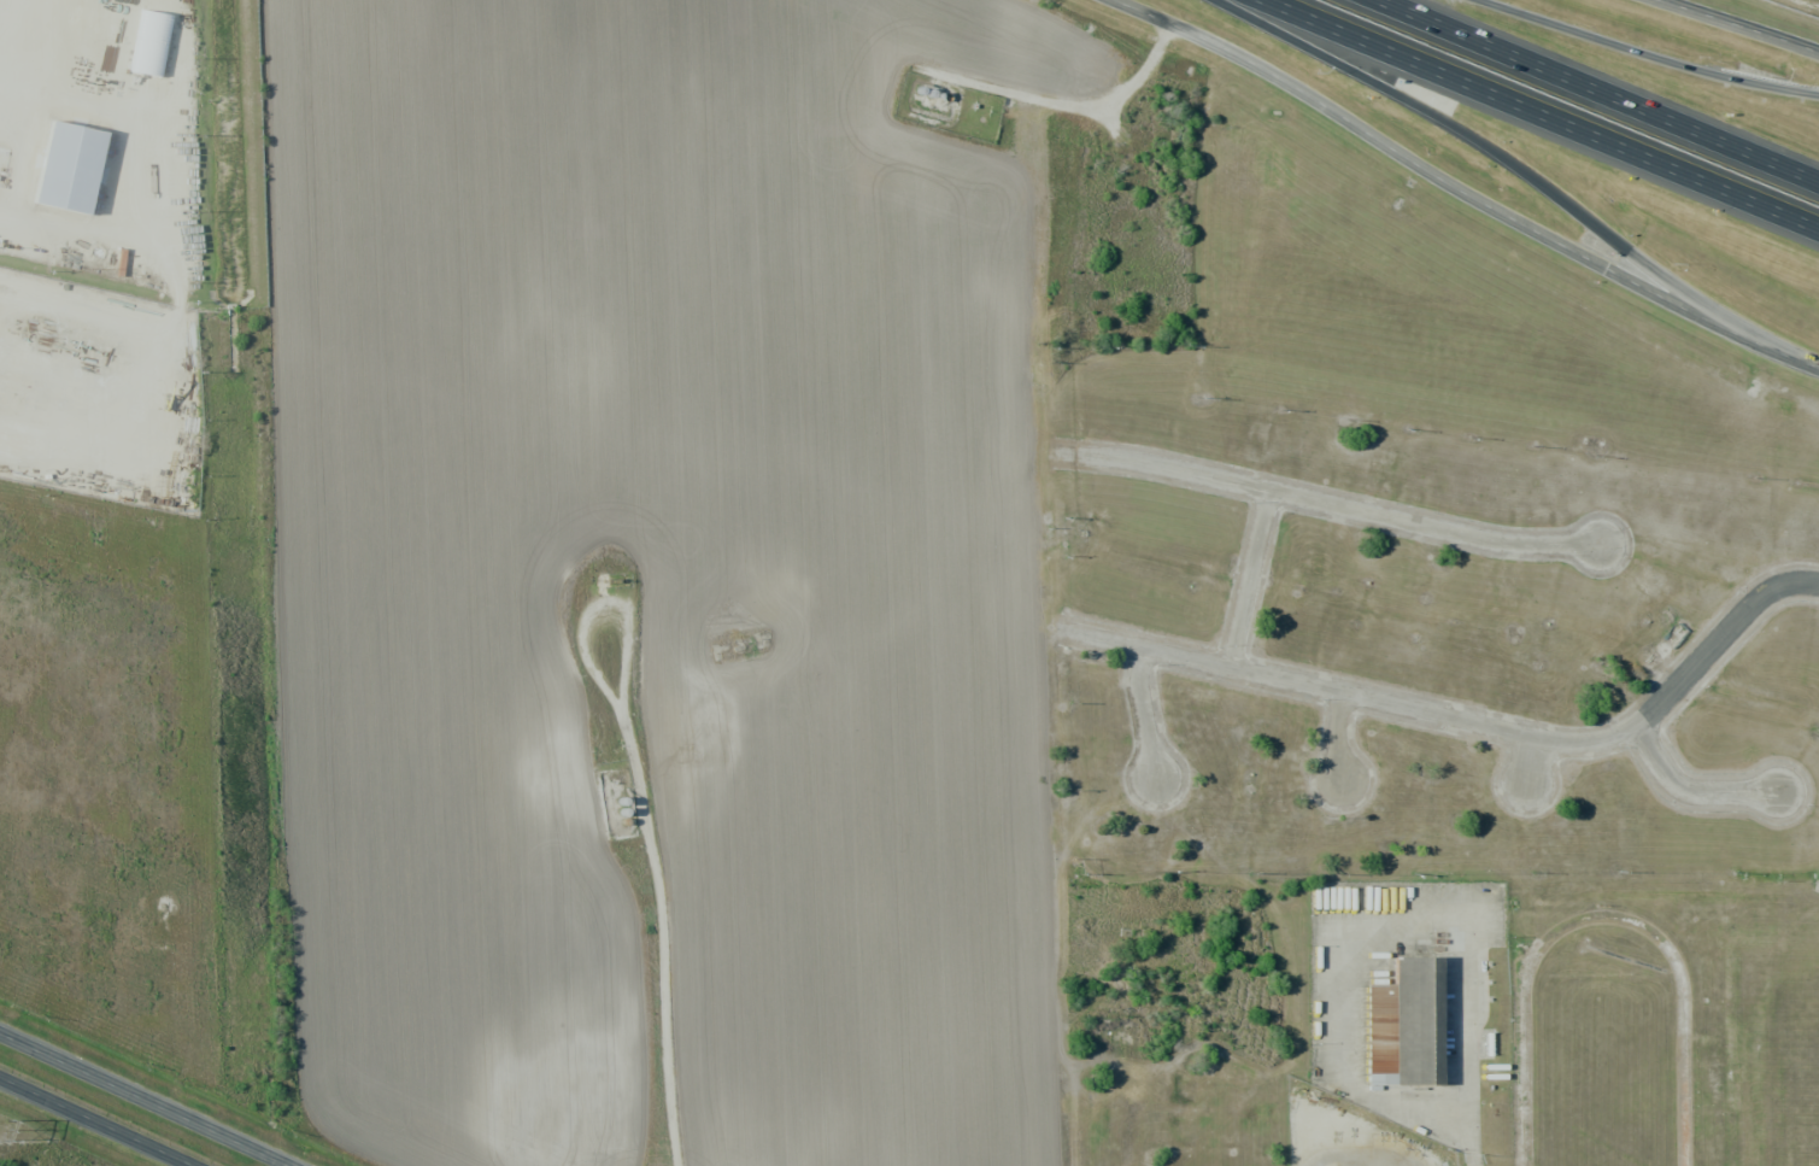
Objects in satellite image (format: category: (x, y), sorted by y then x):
road: (1733, 30)
road: (1639, 53)
road: (1608, 87)
road: (1543, 115)
building: (61, 148)
road: (1516, 164)
road: (1459, 189)
road: (1334, 504)
crop: (674, 574)
road: (1255, 580)
road: (1148, 714)
road: (1472, 723)
road: (1345, 737)
road: (1537, 758)
road: (1700, 784)
building: (1422, 1026)
building: (1379, 1035)
road: (1466, 1062)
road: (145, 1098)
road: (95, 1121)
power tower: (4, 1130)

